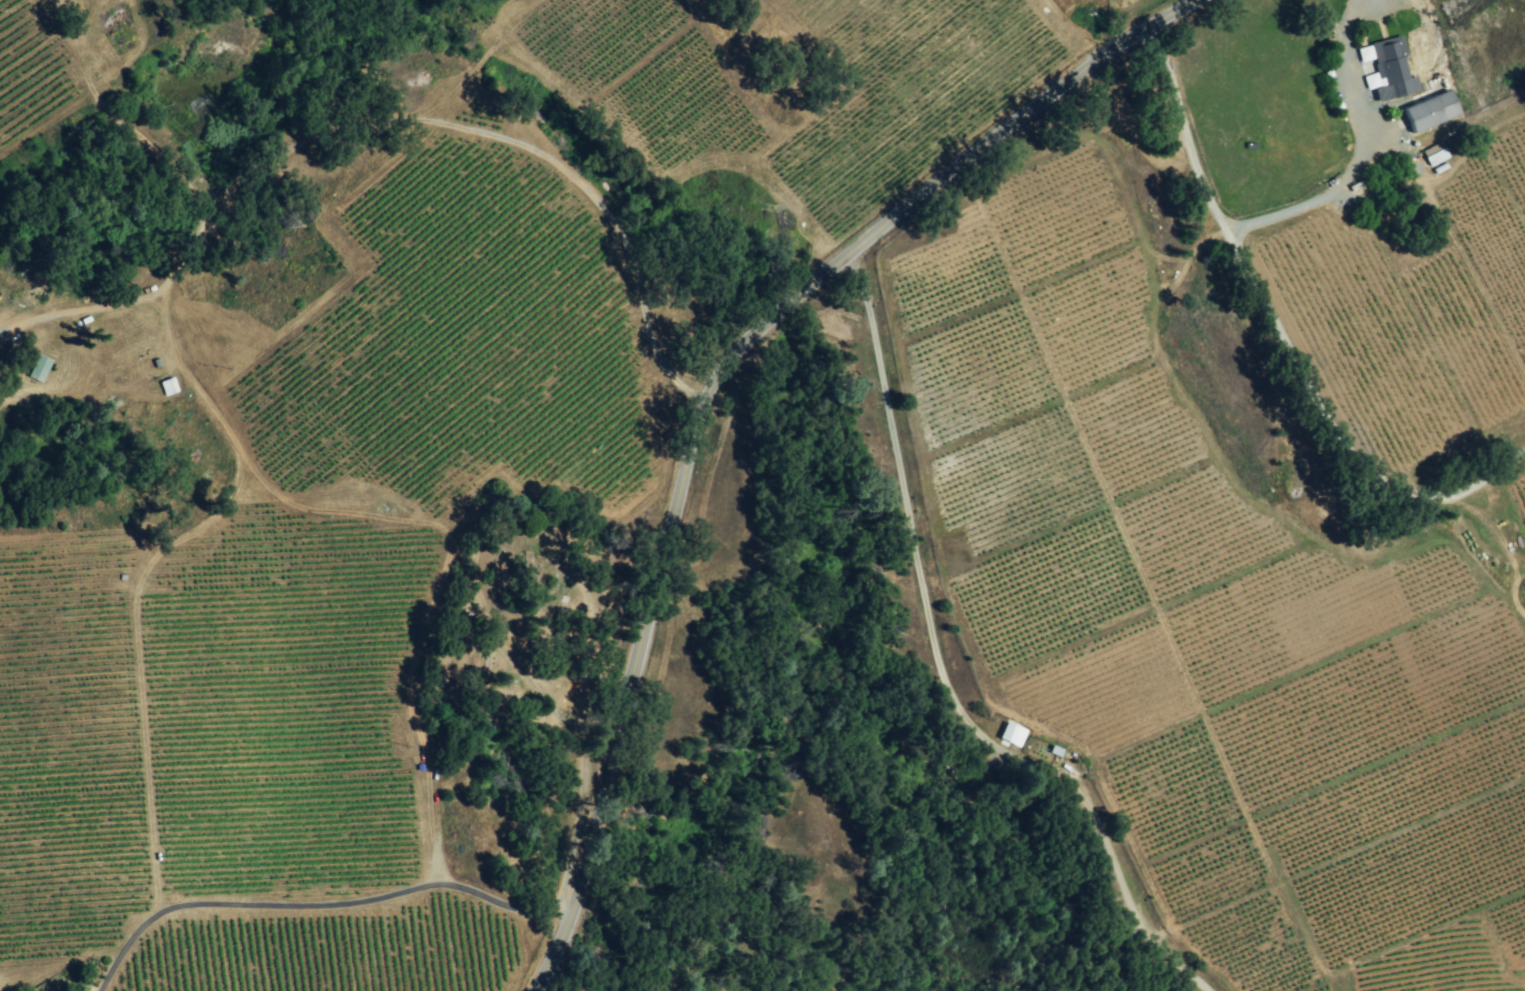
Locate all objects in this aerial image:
building: (1385, 69)
building: (1428, 111)
road: (391, 118)
road: (1356, 154)
building: (1434, 155)
road: (1279, 337)
building: (37, 368)
building: (166, 387)
road: (710, 391)
road: (574, 581)
road: (938, 670)
park: (566, 692)
building: (1010, 735)
road: (312, 906)

